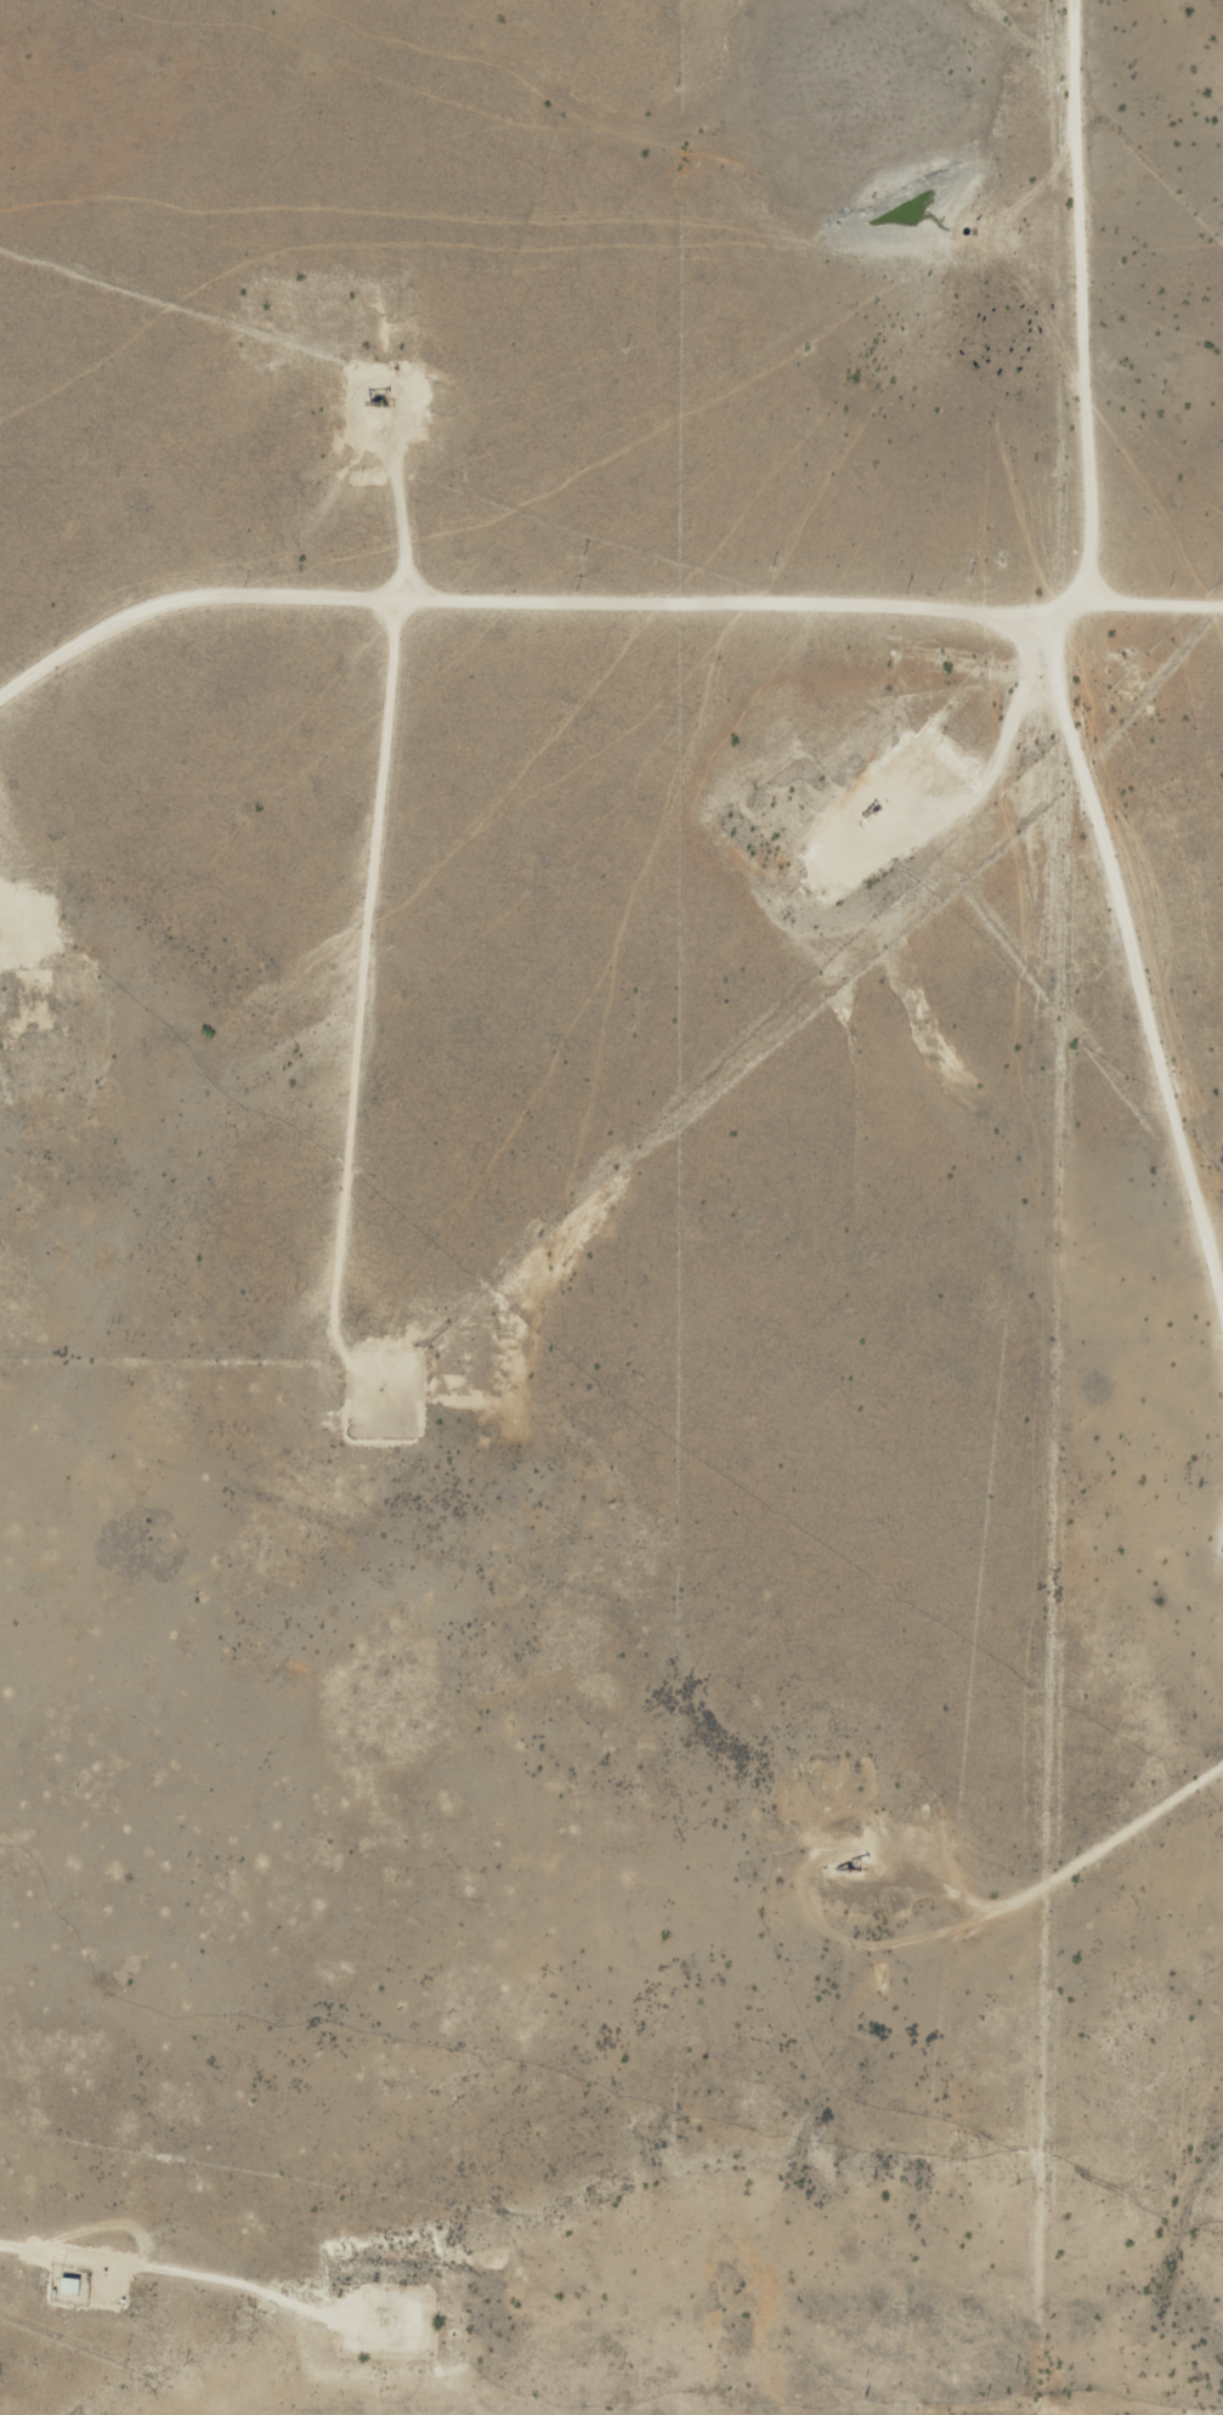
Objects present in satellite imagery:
road: (1097, 301)
road: (602, 599)
road: (1128, 990)
road: (170, 2296)

